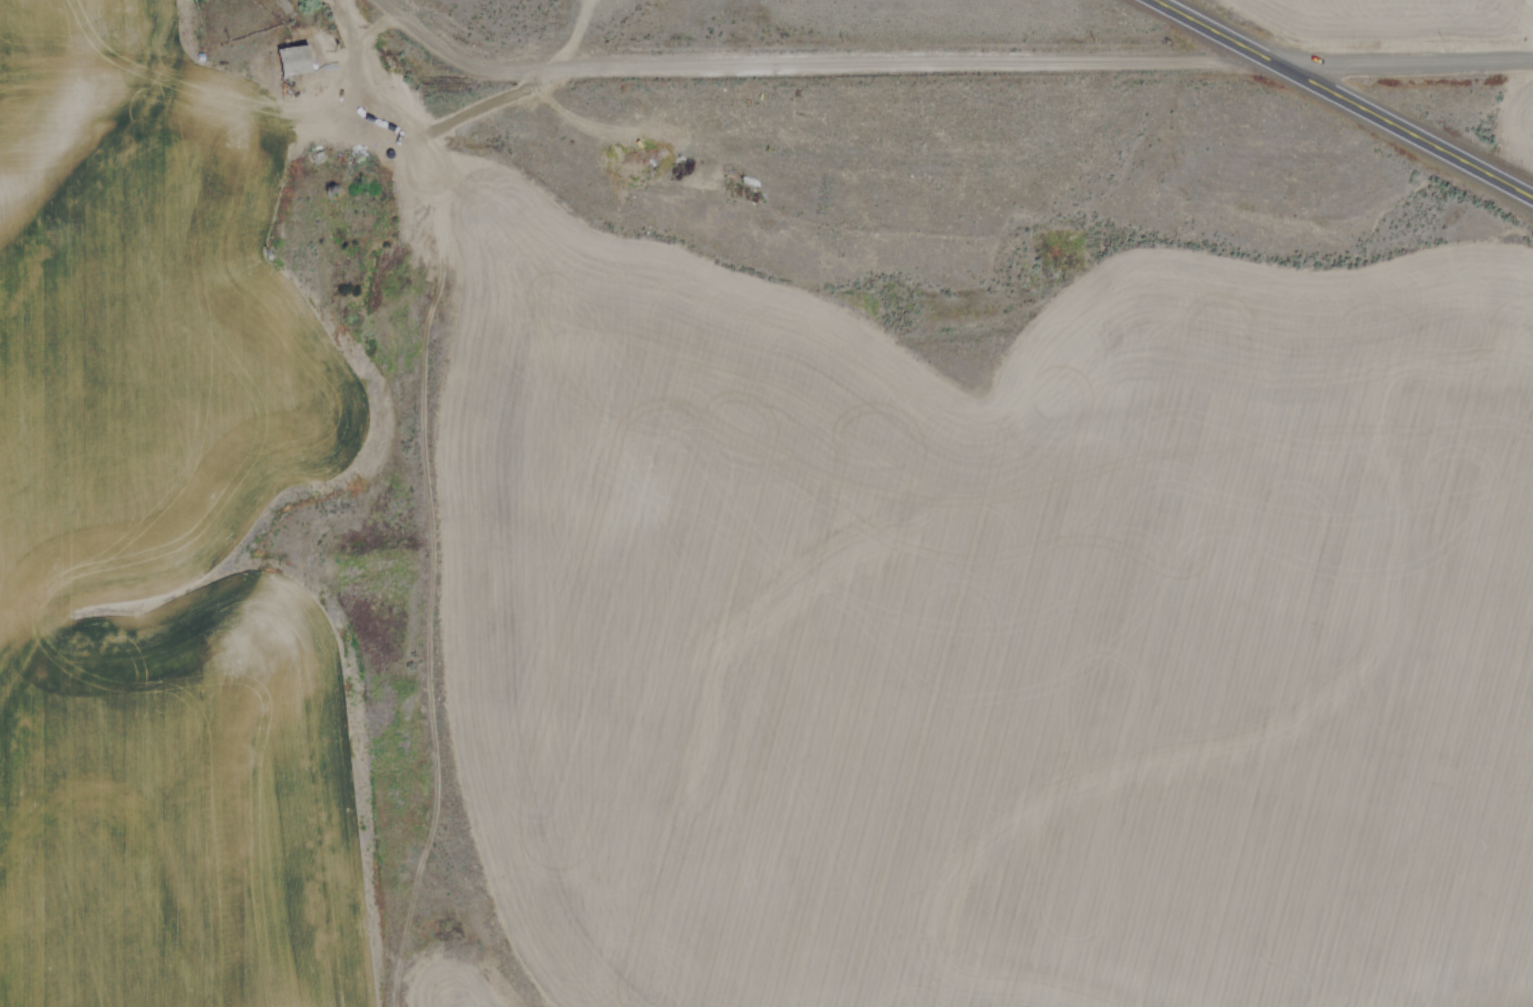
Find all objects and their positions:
road: (359, 43)
road: (454, 56)
road: (1405, 59)
road: (702, 61)
road: (1348, 95)

